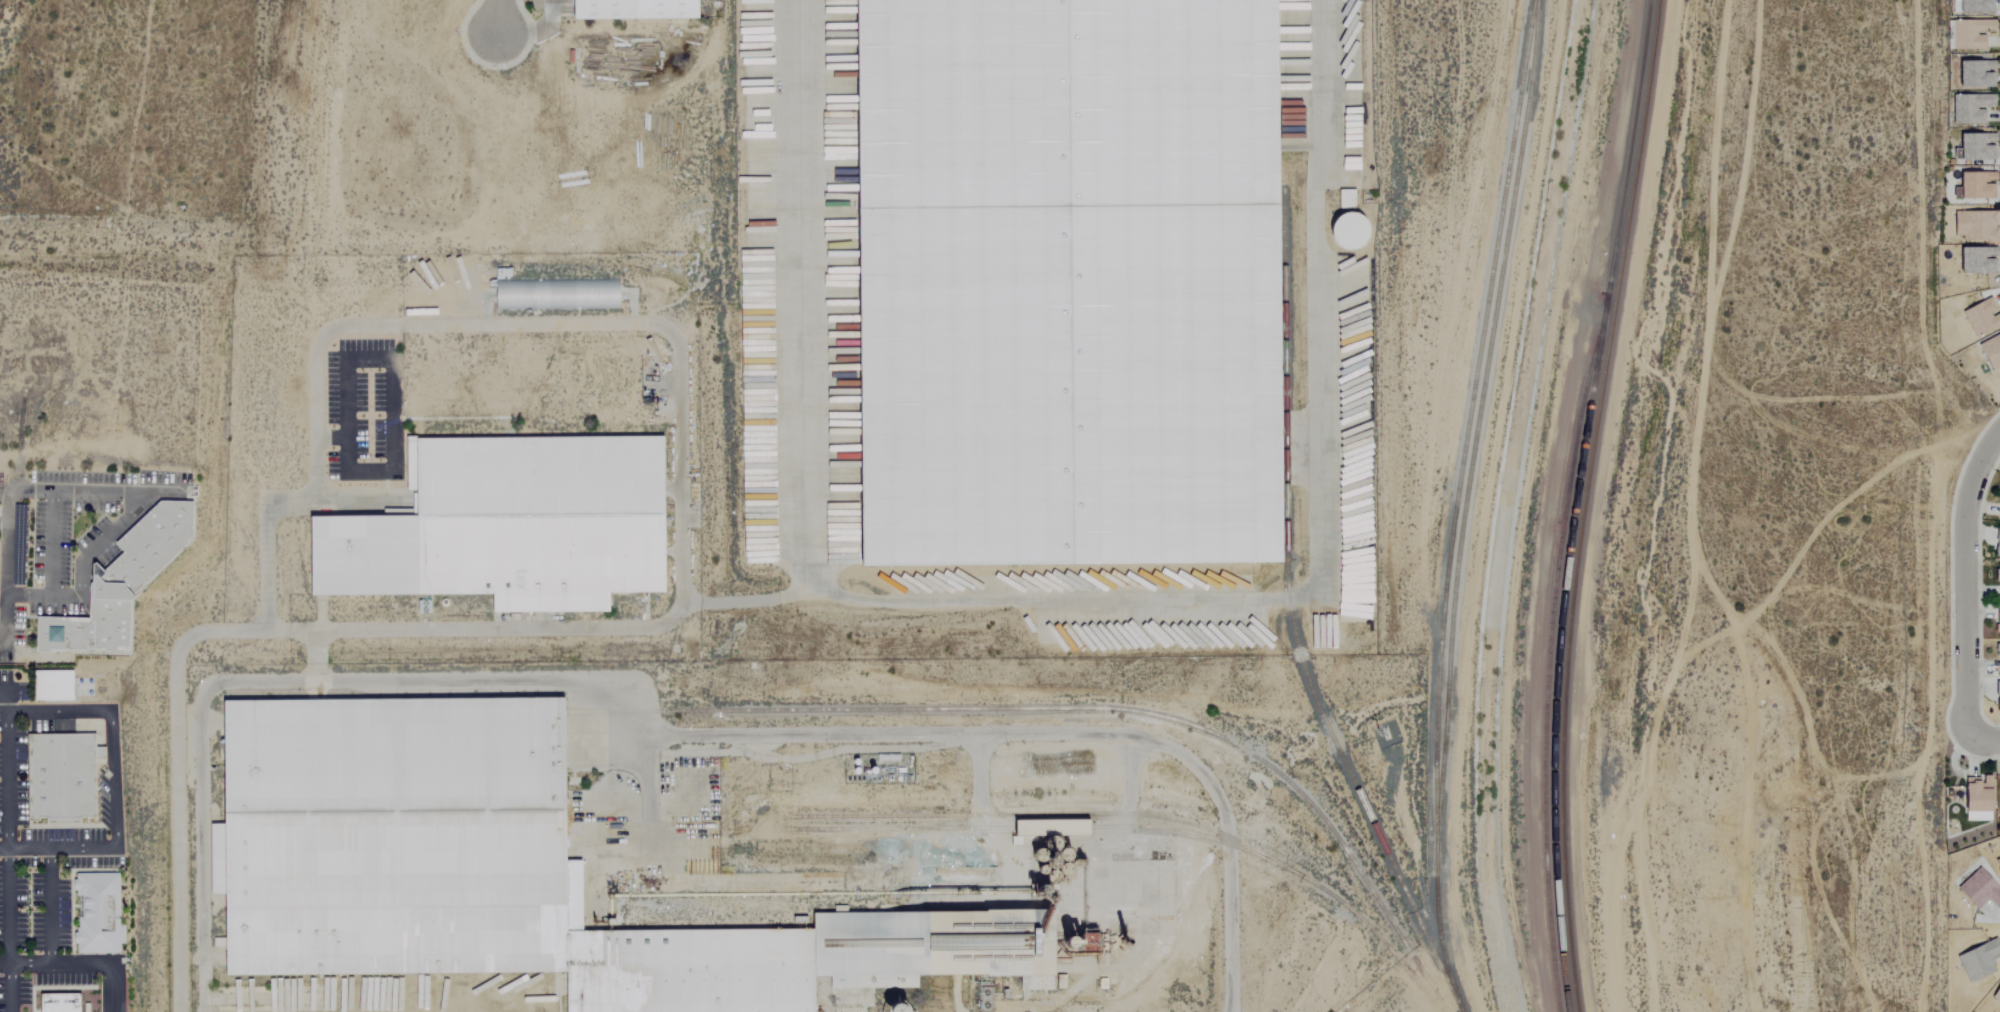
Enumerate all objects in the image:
building: (1972, 7)
building: (634, 10)
road: (495, 18)
street lamp: (534, 19)
road: (533, 27)
building: (1967, 34)
street lamp: (503, 65)
building: (1973, 75)
building: (1971, 110)
building: (1974, 148)
building: (1974, 187)
building: (1344, 199)
building: (1973, 227)
building: (1340, 230)
storage tank: (1351, 232)
building: (1974, 262)
building: (1068, 283)
building: (551, 294)
building: (1980, 317)
building: (1990, 352)
road: (804, 355)
road: (391, 375)
railway: (1475, 427)
road: (269, 500)
railway: (1574, 504)
railway: (1583, 504)
railway: (1454, 505)
road: (1696, 507)
building: (510, 525)
road: (99, 542)
building: (1996, 543)
road: (6, 544)
road: (50, 545)
building: (1996, 575)
road: (1964, 580)
building: (120, 581)
building: (1997, 613)
railway: (1290, 619)
road: (647, 628)
building: (1999, 645)
railway: (1548, 650)
road: (314, 656)
road: (283, 681)
building: (52, 685)
building: (1996, 695)
road: (4, 699)
railway: (1074, 708)
road: (109, 729)
road: (1008, 733)
road: (1982, 736)
building: (64, 778)
road: (1128, 791)
road: (978, 792)
railway: (1151, 815)
building: (1975, 816)
railway: (1051, 826)
building: (1043, 828)
road: (24, 850)
road: (7, 861)
building: (1998, 861)
building: (505, 871)
building: (1977, 890)
building: (100, 912)
road: (48, 926)
building: (1977, 960)
road: (28, 964)
building: (1997, 998)
water tower: (895, 1010)

